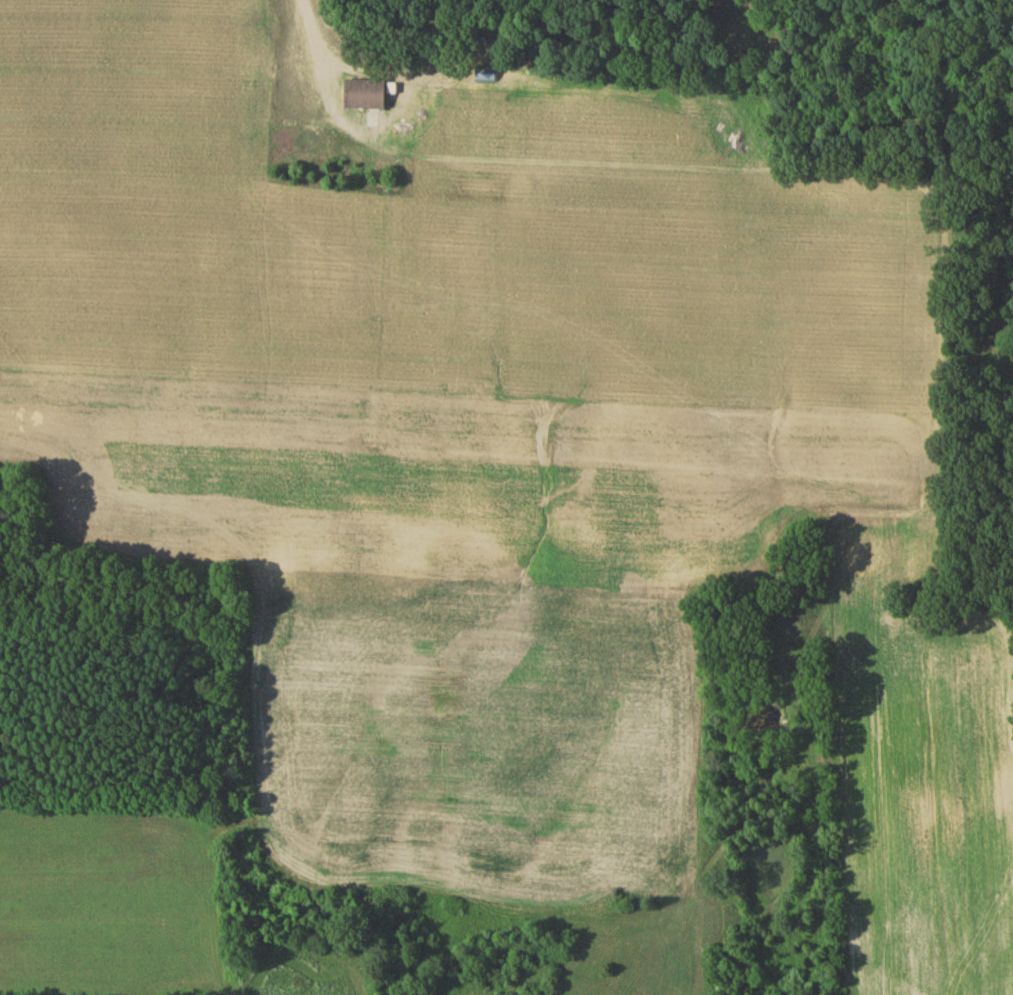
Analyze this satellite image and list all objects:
road: (305, 36)
building: (366, 97)

